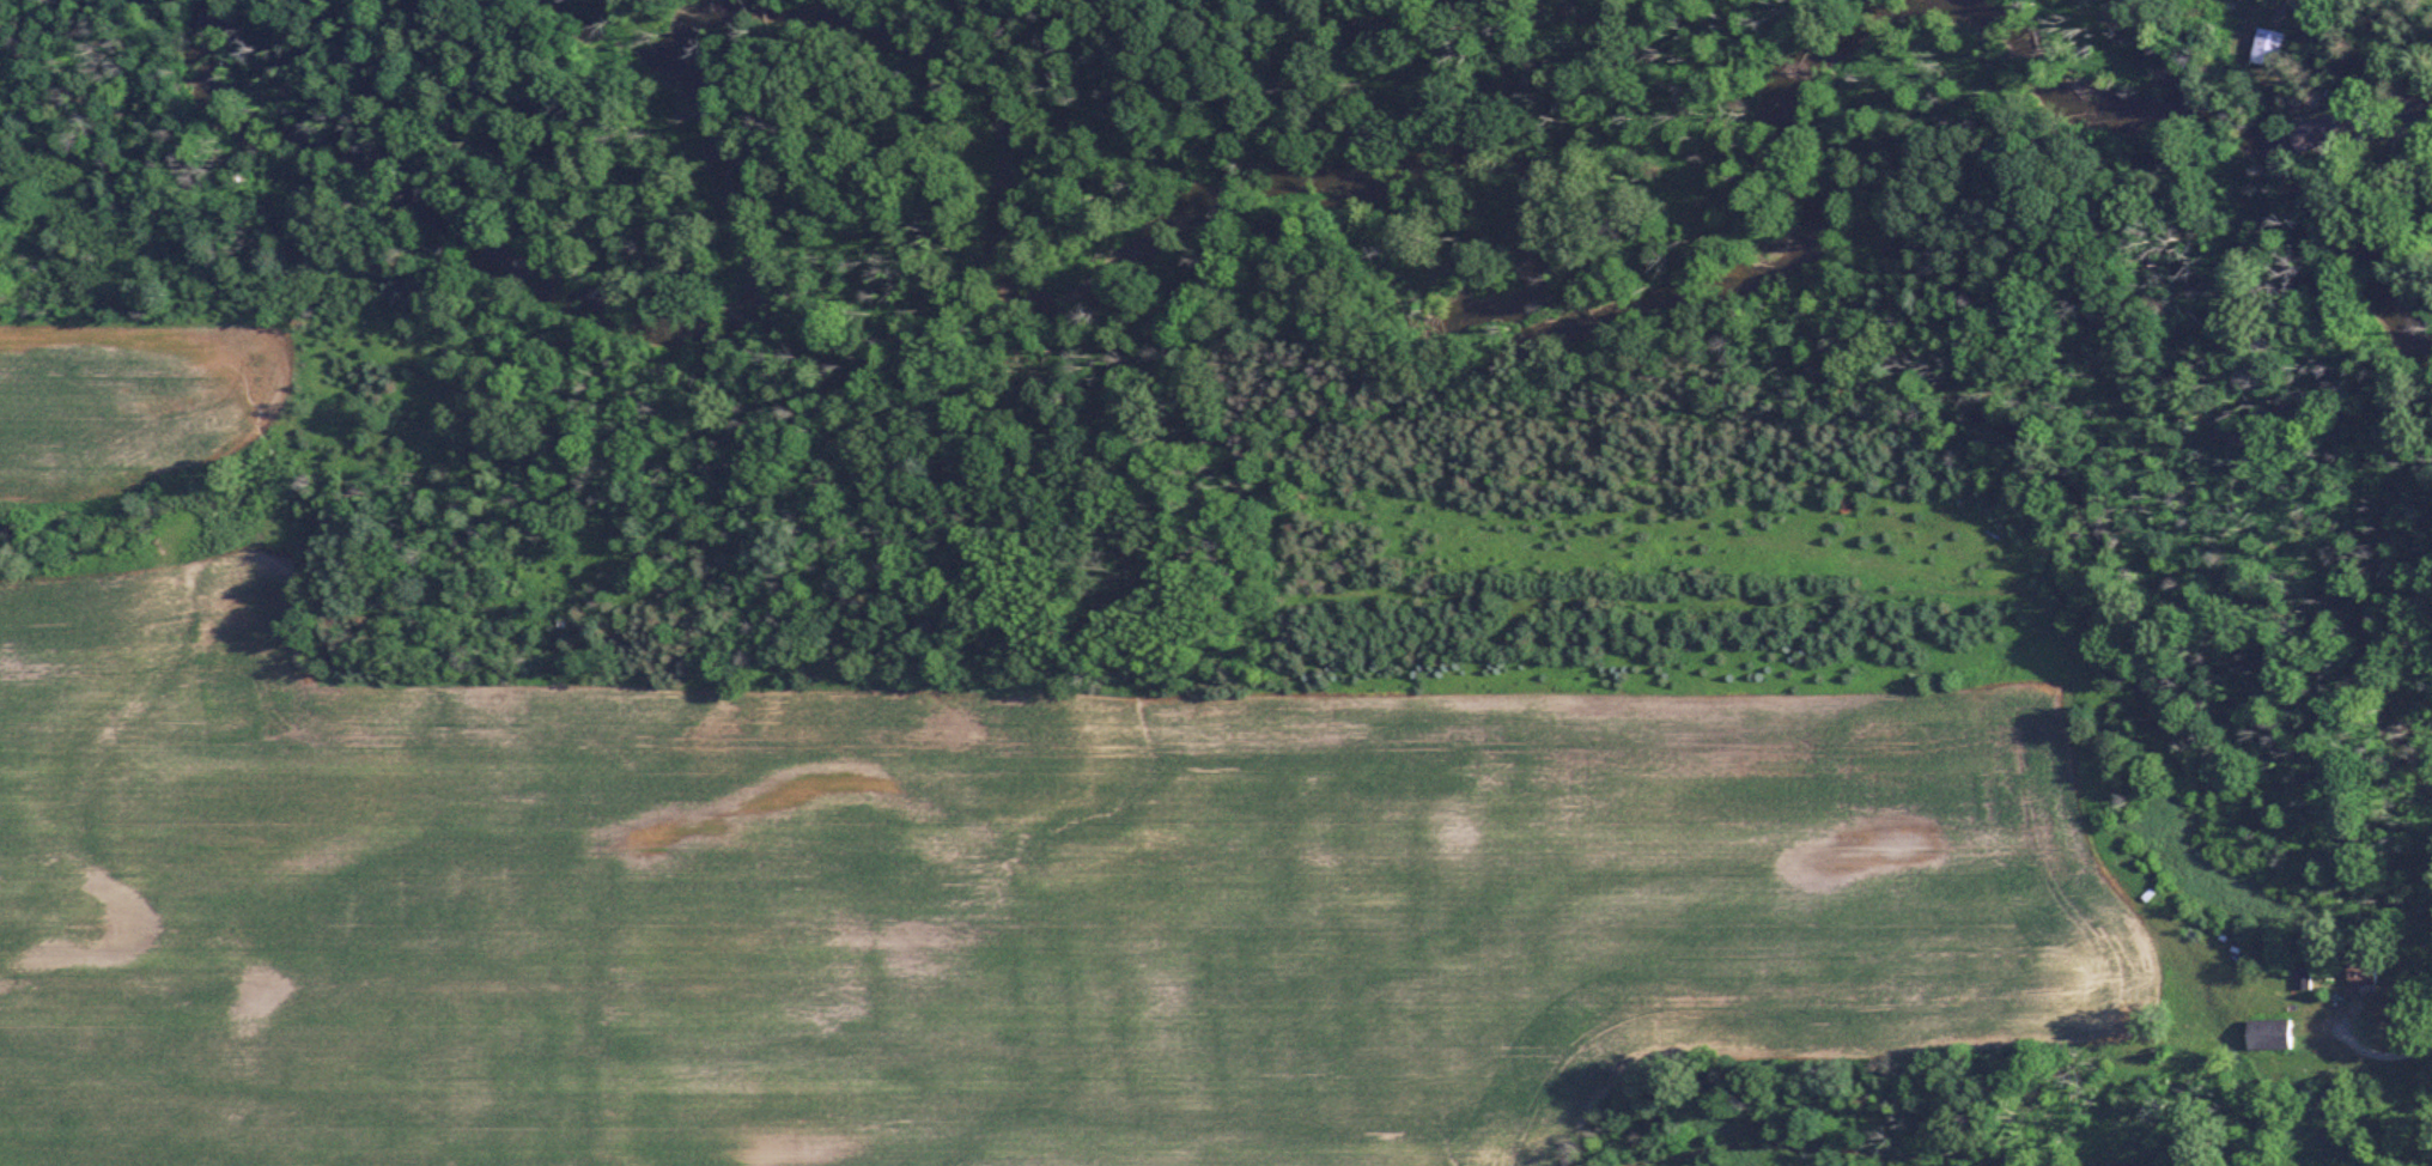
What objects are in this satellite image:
building: (2266, 49)
river: (1314, 182)
building: (2358, 976)
building: (2298, 980)
building: (2267, 1036)
building: (2318, 1111)

